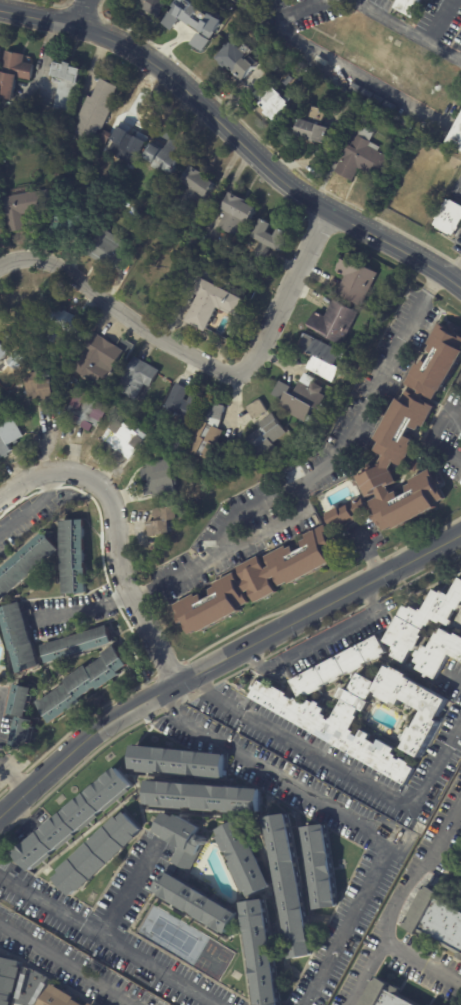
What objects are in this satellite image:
building: (150, 6)
building: (412, 6)
road: (264, 10)
road: (309, 10)
road: (82, 11)
road: (38, 13)
building: (195, 19)
road: (400, 20)
road: (444, 20)
road: (447, 49)
building: (0, 51)
building: (238, 60)
building: (276, 68)
building: (15, 73)
road: (359, 77)
building: (65, 84)
building: (271, 101)
building: (98, 109)
building: (315, 127)
building: (393, 136)
building: (456, 137)
building: (107, 139)
building: (131, 144)
building: (171, 152)
building: (365, 158)
road: (262, 159)
building: (197, 190)
building: (158, 193)
building: (29, 209)
building: (238, 214)
building: (449, 217)
building: (3, 220)
building: (76, 233)
building: (274, 240)
building: (219, 245)
building: (114, 249)
road: (457, 273)
building: (185, 278)
building: (354, 278)
road: (287, 294)
building: (28, 301)
building: (220, 302)
road: (118, 309)
building: (332, 321)
building: (66, 327)
building: (8, 333)
building: (5, 355)
building: (322, 357)
building: (15, 360)
building: (100, 360)
building: (49, 376)
building: (141, 378)
building: (459, 380)
building: (0, 390)
building: (43, 391)
building: (303, 397)
building: (182, 403)
building: (257, 409)
building: (90, 411)
building: (208, 432)
road: (432, 434)
building: (267, 436)
building: (9, 438)
building: (126, 441)
building: (411, 465)
road: (321, 468)
building: (158, 478)
building: (376, 480)
road: (33, 508)
building: (161, 521)
road: (278, 524)
road: (116, 532)
road: (370, 553)
building: (73, 556)
building: (26, 563)
road: (80, 610)
building: (421, 620)
building: (16, 639)
road: (318, 639)
building: (73, 643)
building: (437, 652)
road: (219, 661)
building: (338, 667)
building: (45, 678)
building: (79, 684)
building: (16, 700)
building: (326, 724)
building: (20, 732)
building: (178, 763)
road: (340, 769)
road: (13, 778)
building: (201, 797)
building: (71, 816)
road: (346, 816)
building: (180, 837)
building: (97, 854)
building: (243, 857)
building: (319, 866)
building: (288, 885)
road: (127, 889)
building: (460, 893)
road: (399, 900)
building: (196, 903)
building: (434, 921)
park: (173, 935)
road: (107, 941)
building: (261, 953)
building: (460, 961)
road: (68, 964)
road: (423, 965)
building: (9, 978)
building: (385, 994)
building: (60, 997)
building: (92, 1004)

